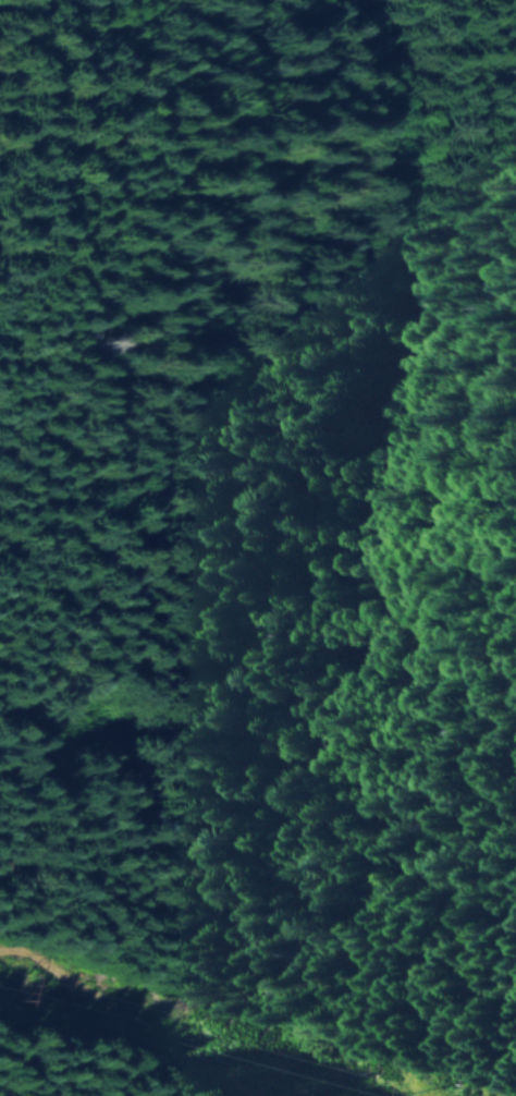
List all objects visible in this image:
power tower: (13, 991)

